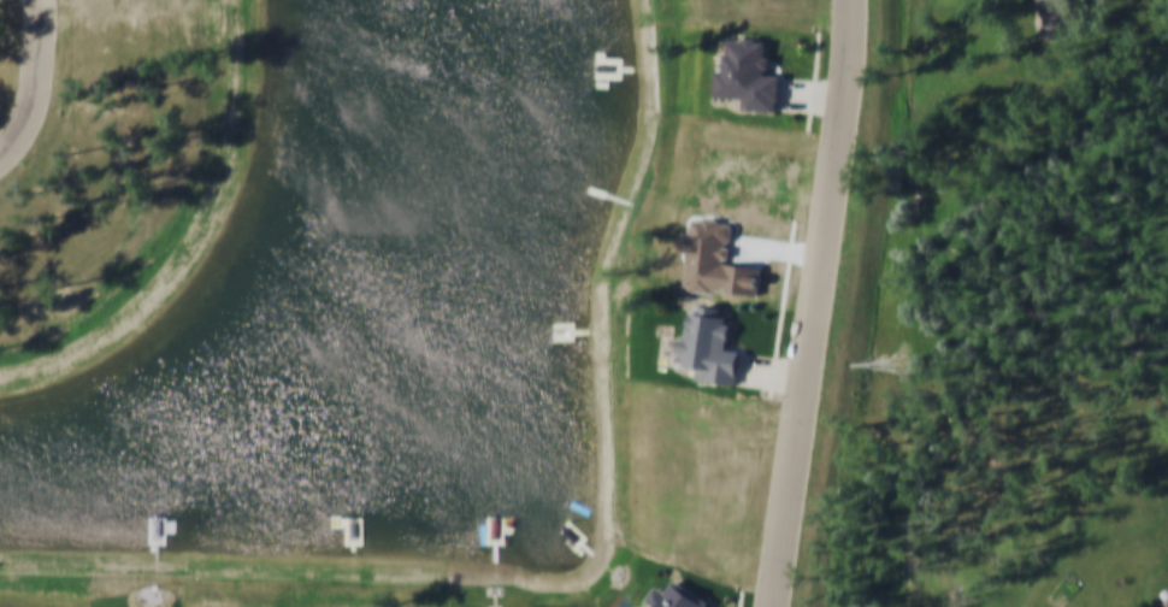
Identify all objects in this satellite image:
building: (1062, 20)
road: (37, 86)
road: (814, 303)
building: (713, 349)
road: (777, 353)
road: (771, 373)
building: (682, 597)
road: (742, 599)
building: (1167, 600)
building: (1167, 606)

